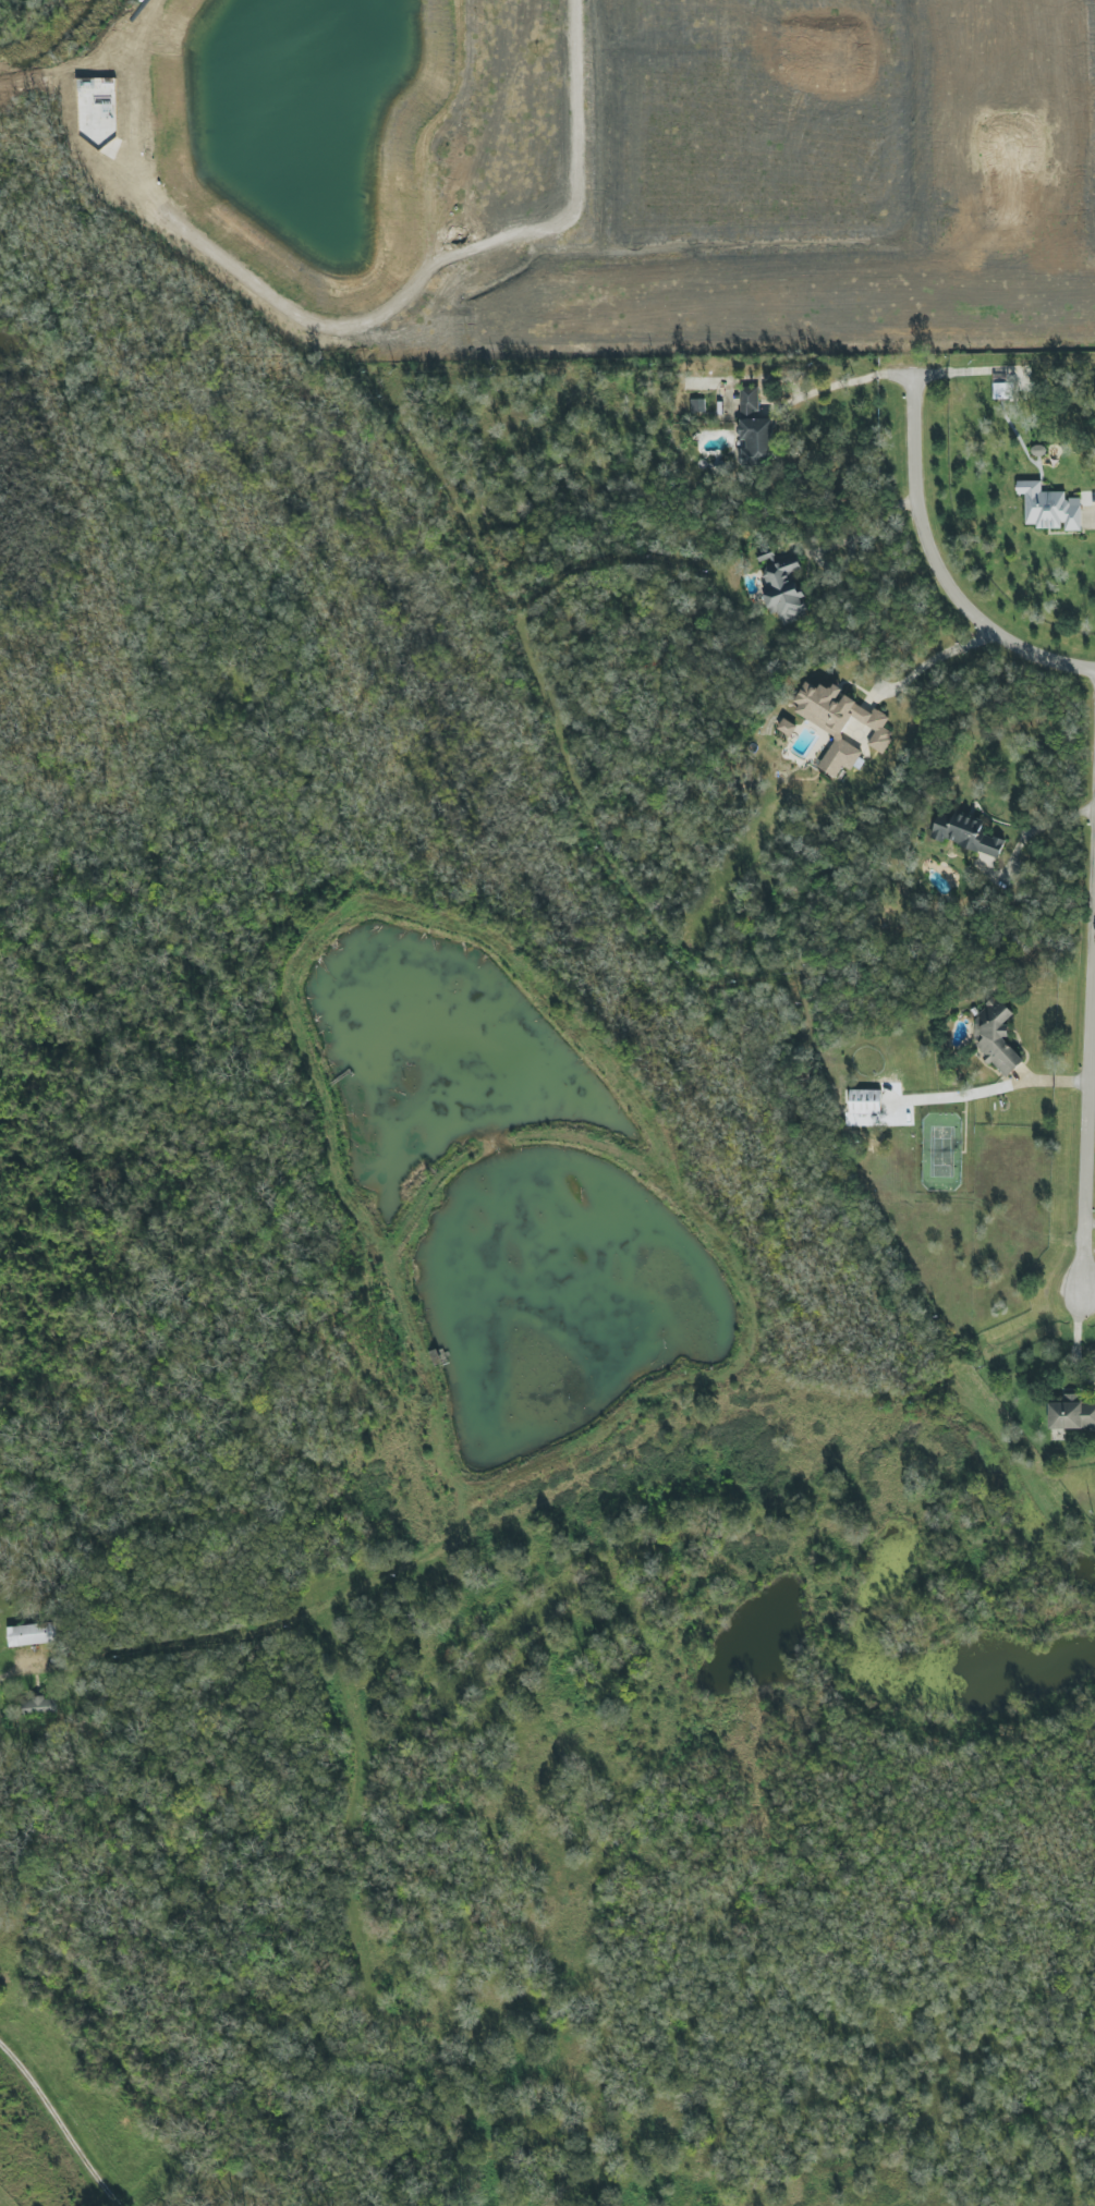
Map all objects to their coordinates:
road: (451, 258)
road: (959, 371)
road: (836, 383)
building: (1003, 391)
building: (697, 405)
building: (755, 430)
building: (1049, 508)
road: (865, 527)
road: (933, 566)
road: (934, 657)
building: (841, 724)
building: (786, 728)
building: (966, 833)
road: (1024, 833)
building: (999, 1044)
road: (1086, 1065)
building: (865, 1101)
road: (1088, 1223)
road: (1074, 1340)
building: (1072, 1414)
building: (33, 1634)
road: (20, 1665)
building: (39, 1706)
road: (61, 2124)

